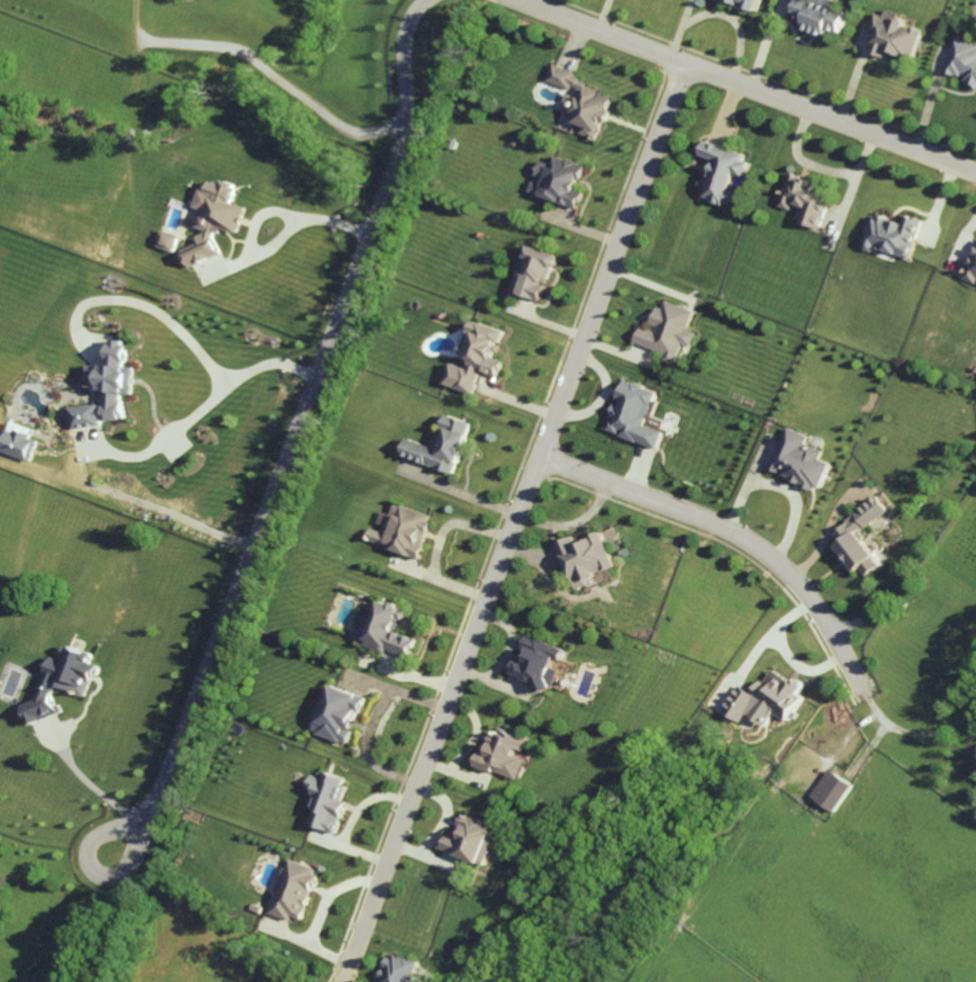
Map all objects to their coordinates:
building: (749, 4)
road: (720, 15)
building: (818, 15)
building: (893, 35)
building: (962, 61)
road: (744, 84)
building: (585, 103)
building: (723, 172)
building: (559, 181)
building: (808, 200)
building: (215, 220)
road: (316, 220)
building: (894, 236)
building: (169, 241)
building: (971, 270)
building: (535, 272)
road: (148, 307)
building: (667, 331)
building: (477, 359)
building: (107, 388)
road: (199, 411)
building: (635, 415)
road: (292, 433)
building: (18, 443)
building: (441, 447)
building: (801, 460)
road: (511, 521)
road: (571, 524)
road: (450, 525)
road: (730, 527)
building: (401, 531)
building: (859, 537)
building: (587, 556)
road: (437, 579)
building: (389, 630)
road: (756, 647)
building: (538, 663)
road: (799, 666)
building: (62, 682)
building: (766, 699)
building: (339, 714)
road: (370, 722)
road: (911, 732)
building: (503, 754)
road: (86, 784)
building: (830, 790)
building: (328, 801)
building: (474, 840)
building: (294, 890)
building: (401, 970)

